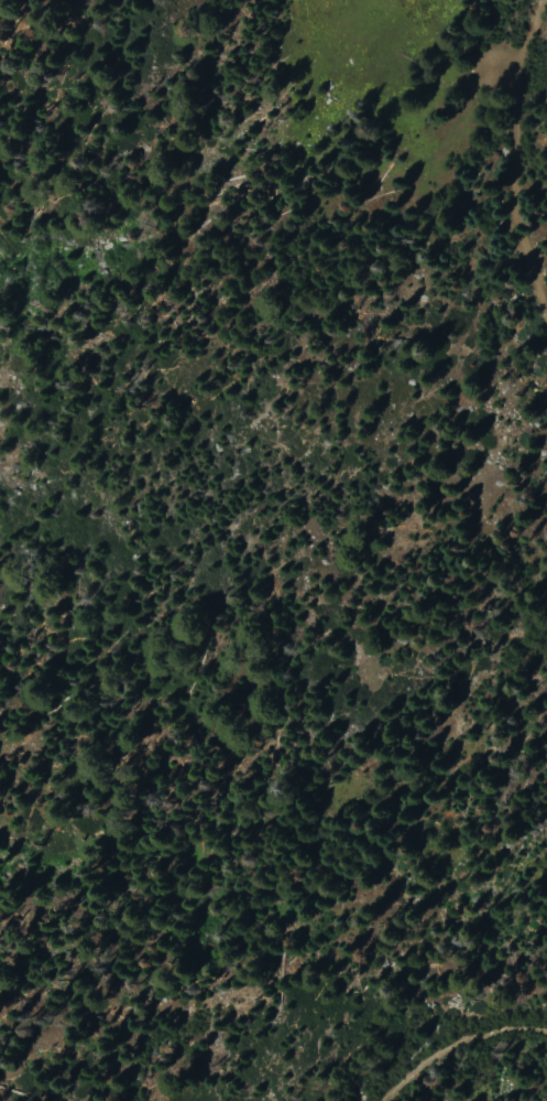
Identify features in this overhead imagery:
road: (527, 150)
road: (448, 1037)

